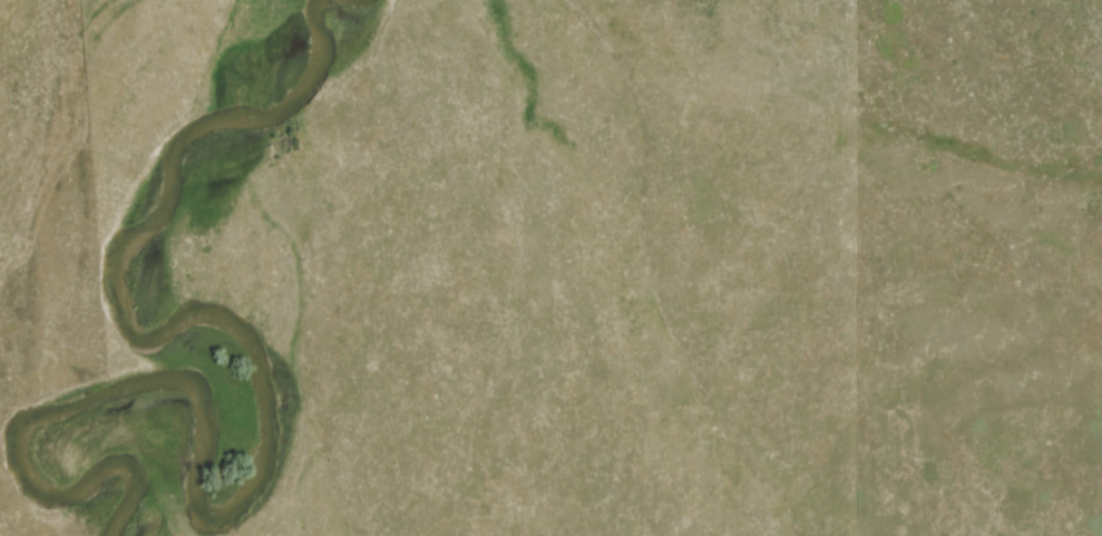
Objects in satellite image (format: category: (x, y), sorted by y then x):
river: (264, 402)

